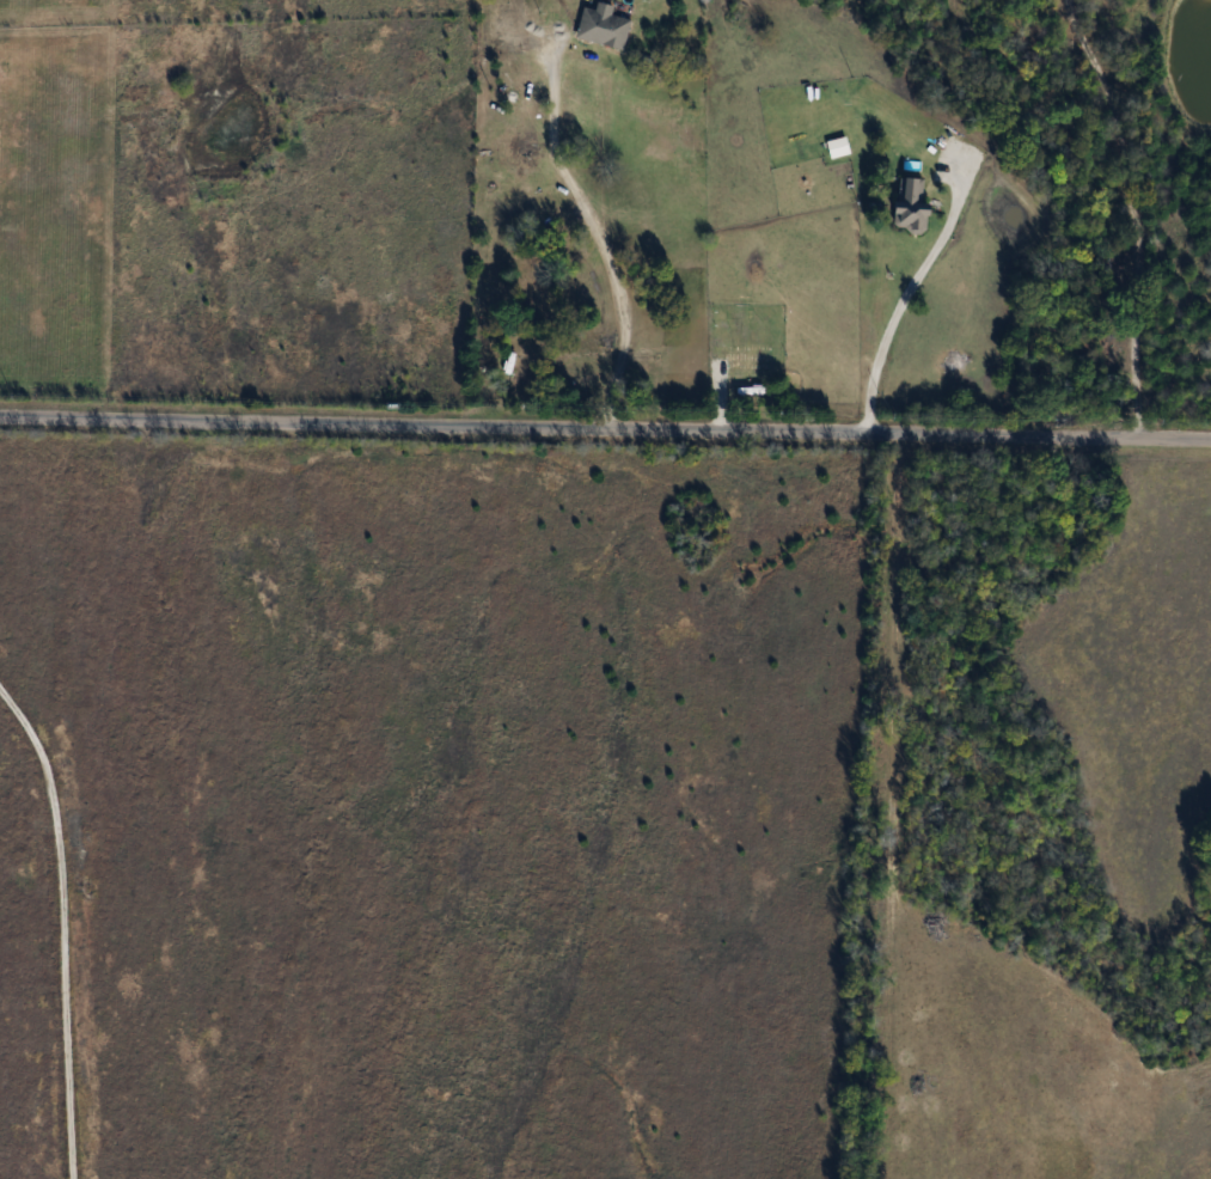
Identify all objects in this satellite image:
building: (606, 25)
building: (916, 206)
road: (1130, 210)
road: (597, 237)
road: (894, 316)
building: (751, 356)
road: (605, 428)
road: (57, 934)

